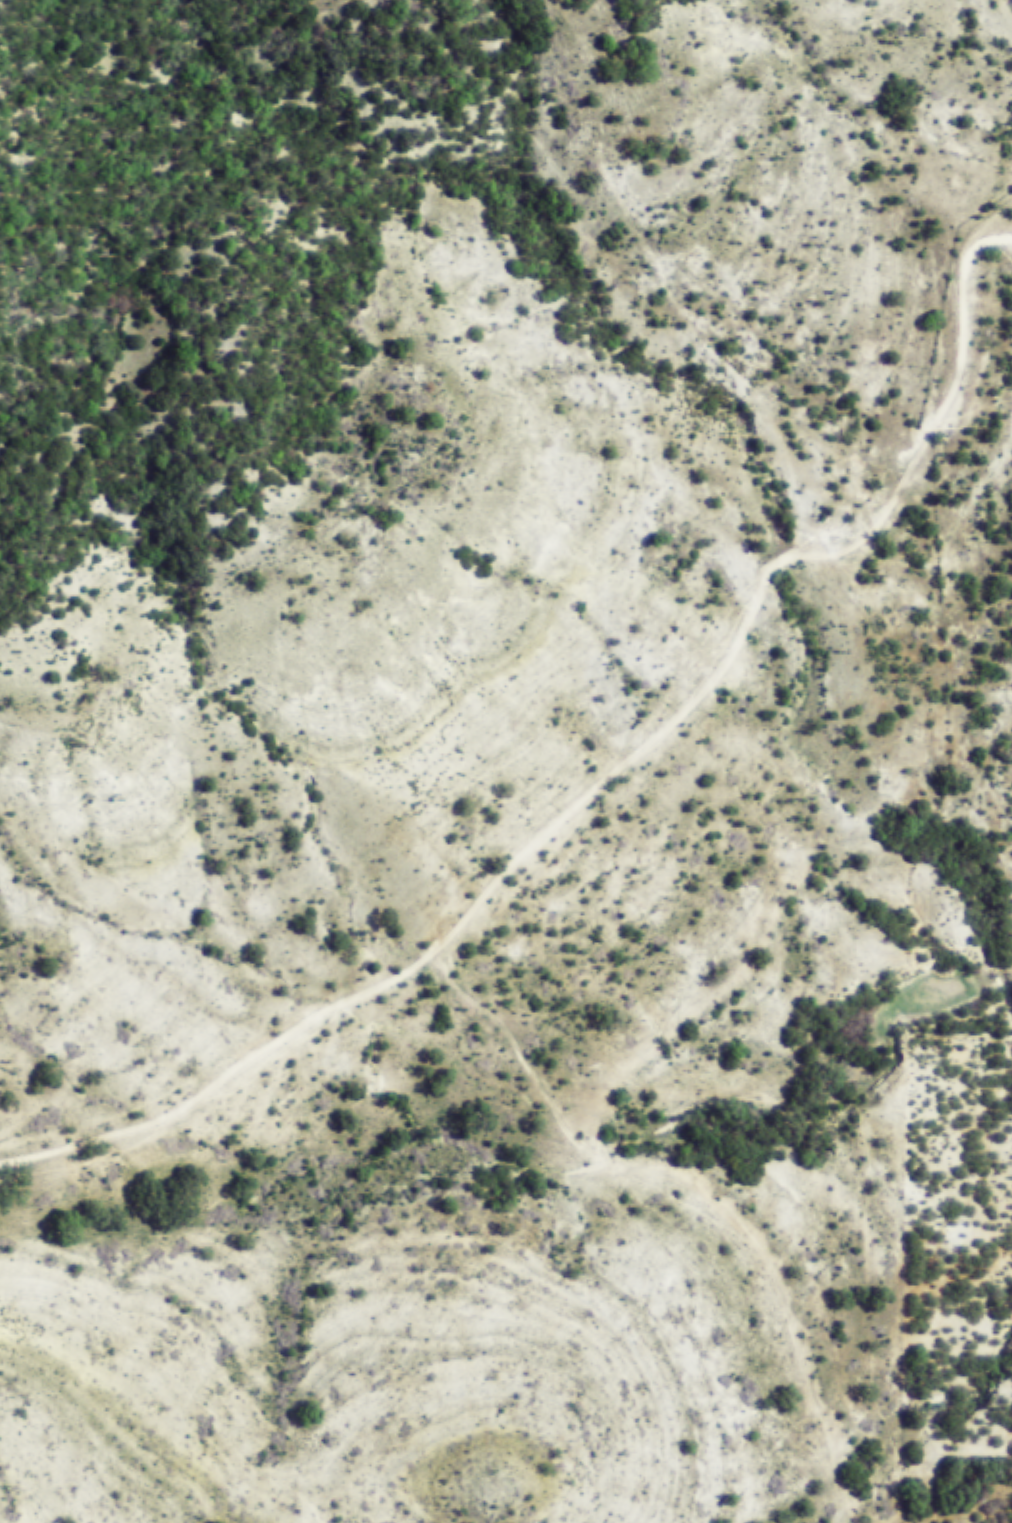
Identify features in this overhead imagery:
road: (604, 781)

